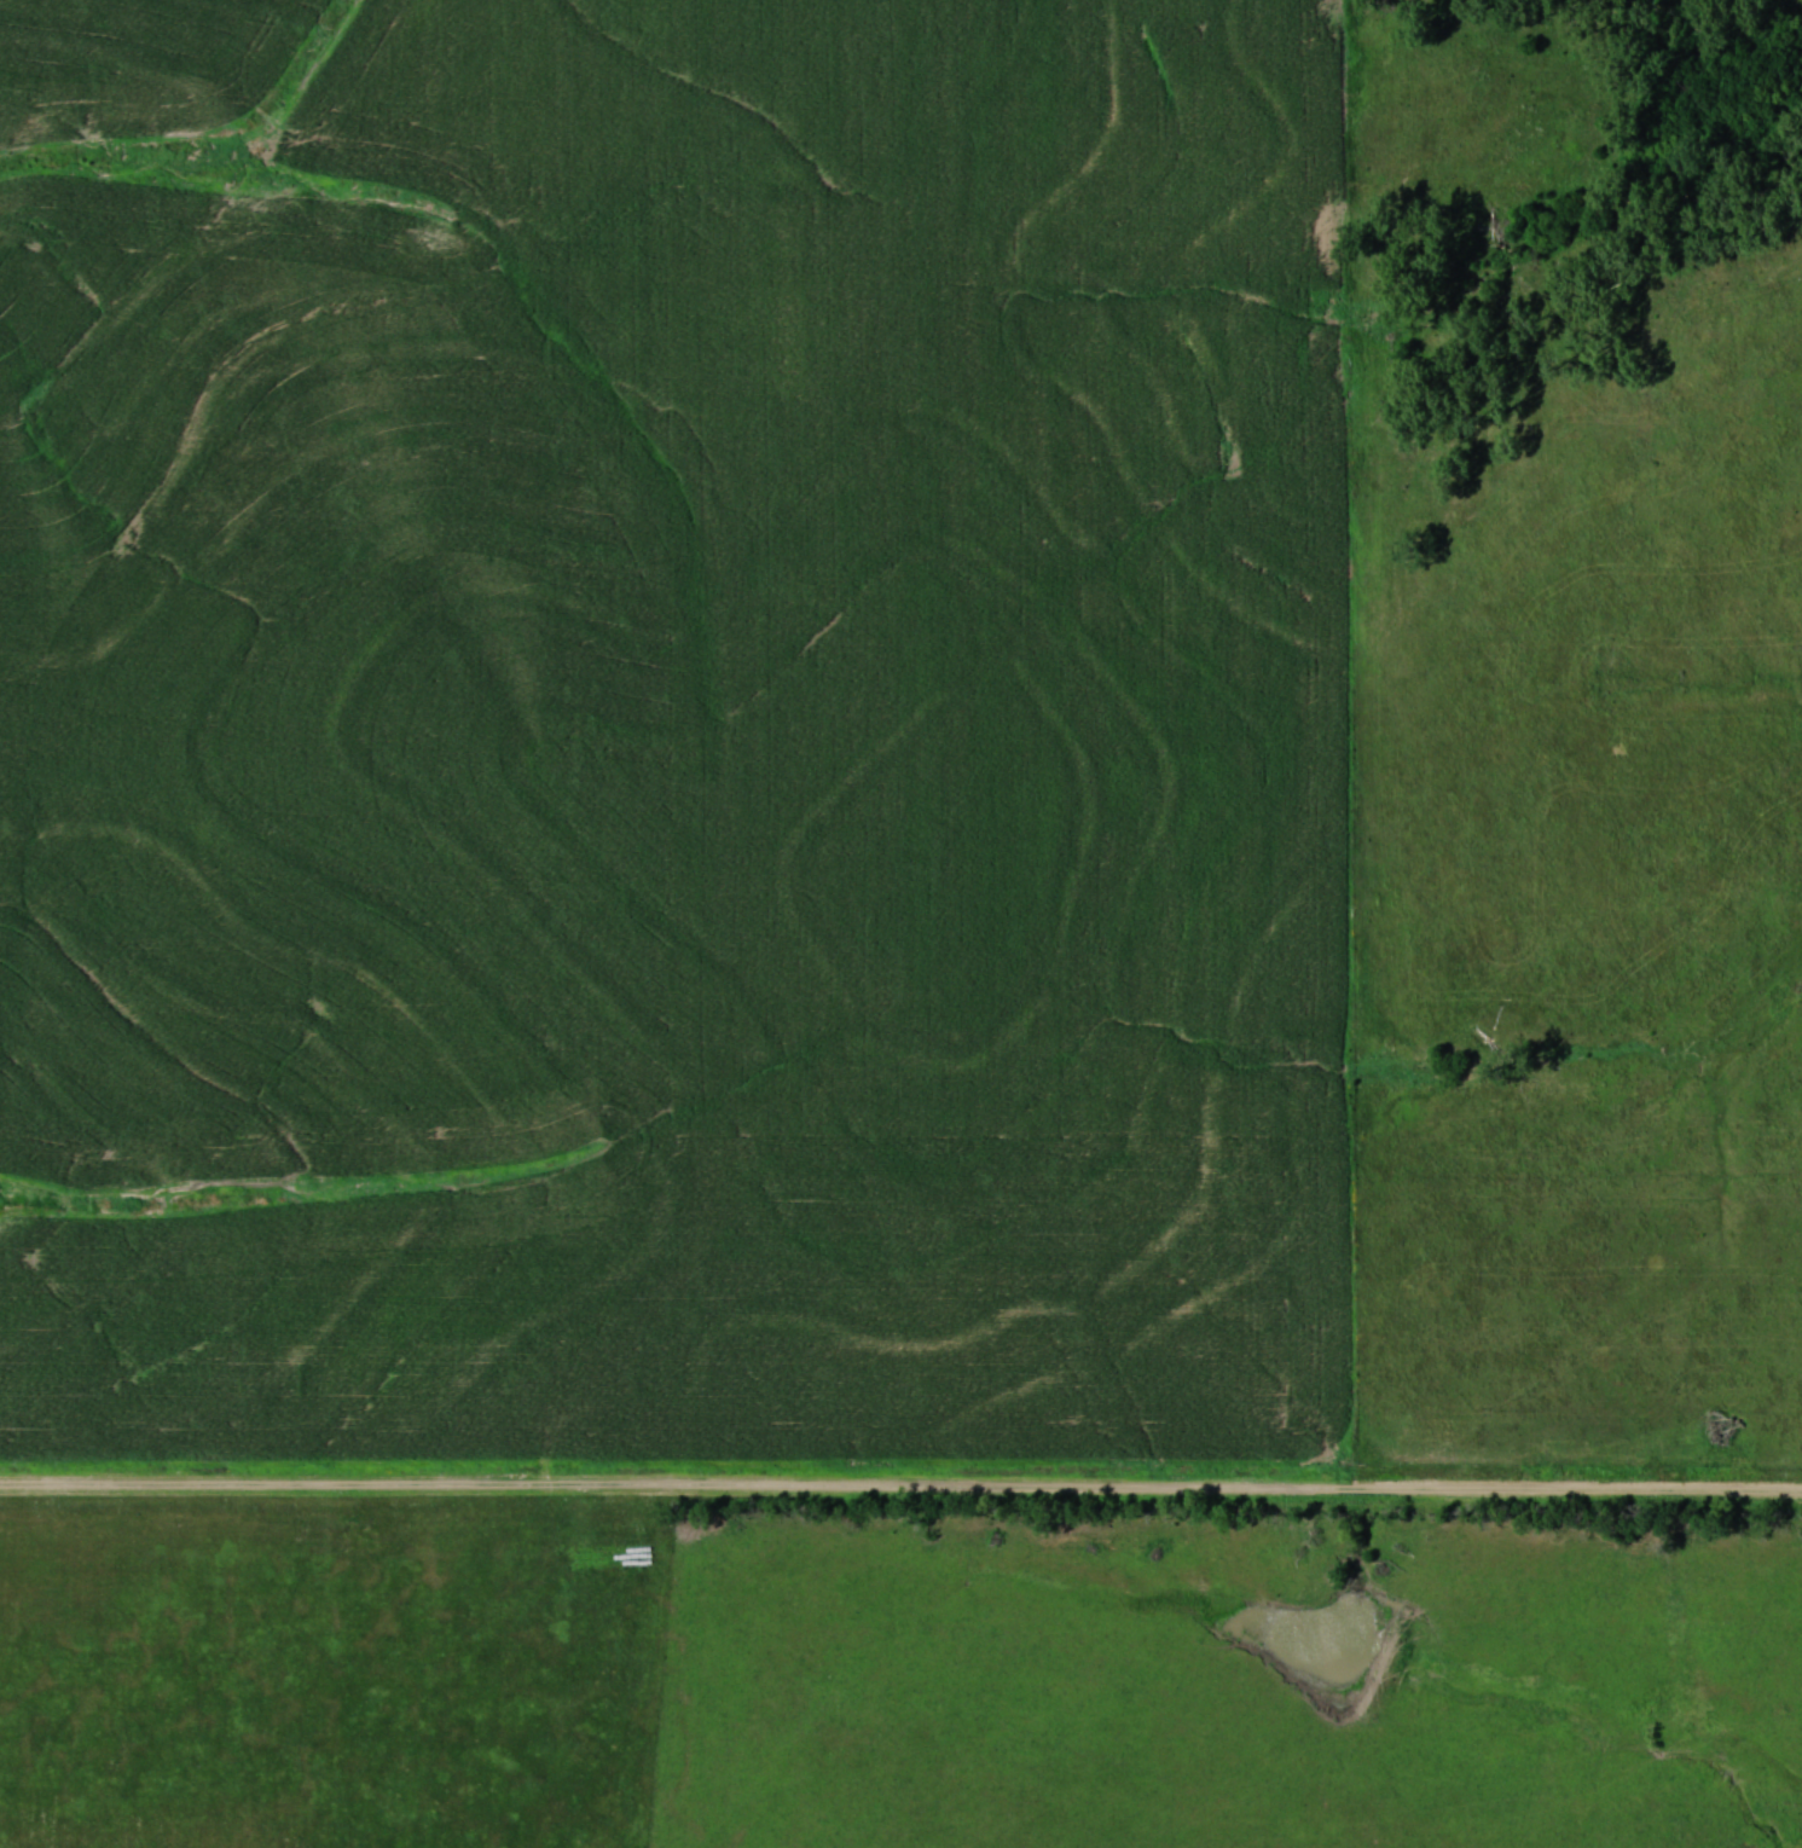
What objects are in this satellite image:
road: (900, 1489)

